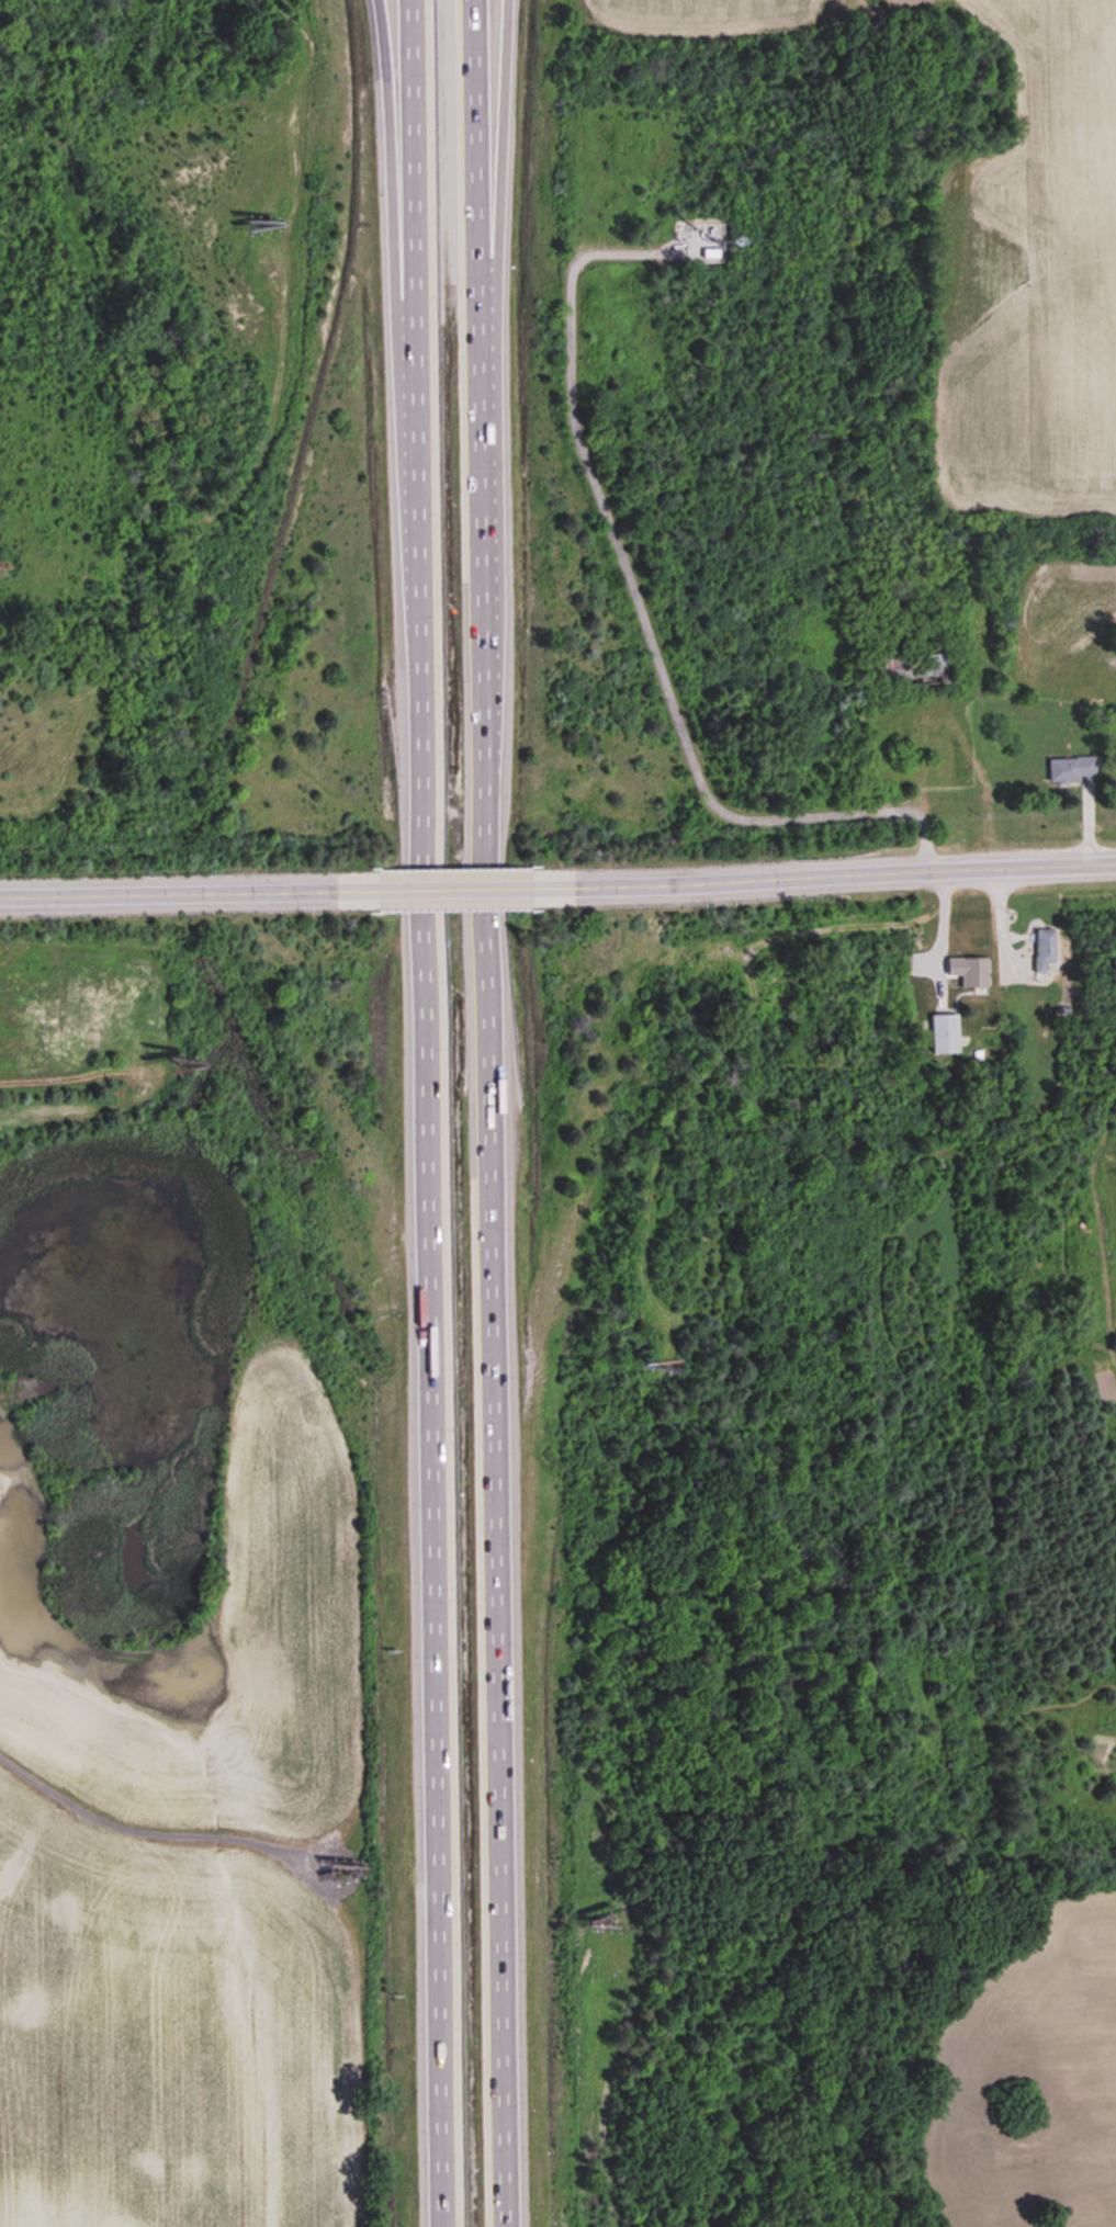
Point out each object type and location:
building: (711, 253)
road: (495, 304)
road: (397, 349)
road: (640, 611)
building: (913, 674)
building: (1072, 770)
road: (824, 874)
road: (455, 889)
road: (189, 892)
building: (1045, 950)
building: (945, 1033)
road: (426, 1113)
road: (488, 1113)

